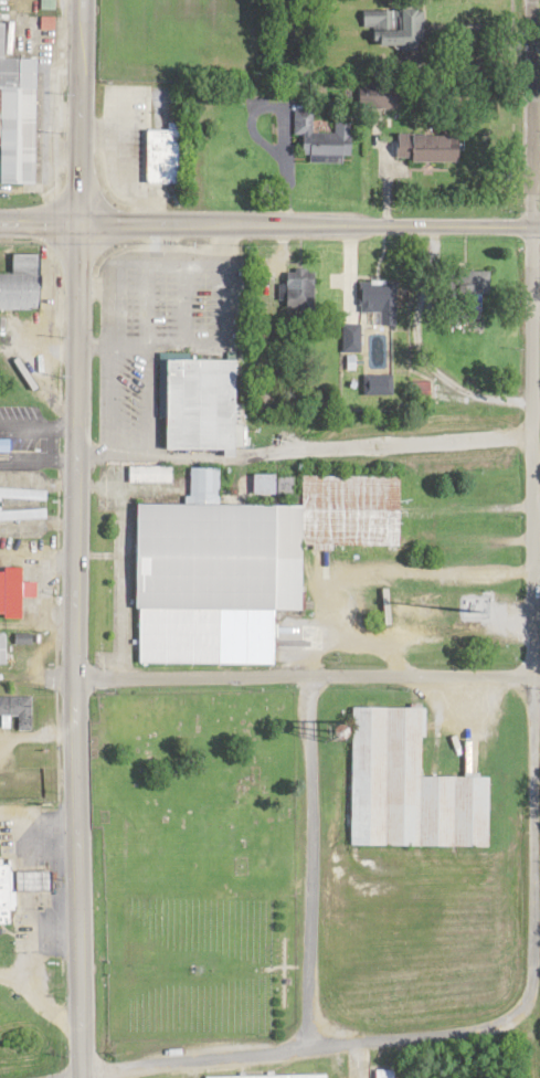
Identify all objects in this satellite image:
building: (400, 29)
building: (381, 99)
building: (19, 117)
building: (328, 140)
building: (430, 152)
building: (165, 160)
road: (39, 221)
road: (308, 222)
building: (24, 277)
building: (301, 294)
building: (383, 304)
building: (381, 389)
building: (204, 398)
building: (6, 448)
road: (528, 500)
building: (23, 508)
road: (71, 538)
building: (250, 559)
building: (14, 596)
road: (269, 675)
building: (19, 705)
building: (411, 780)
building: (41, 876)
building: (9, 889)
road: (277, 1046)
building: (380, 1070)
building: (269, 1071)
building: (372, 1071)

